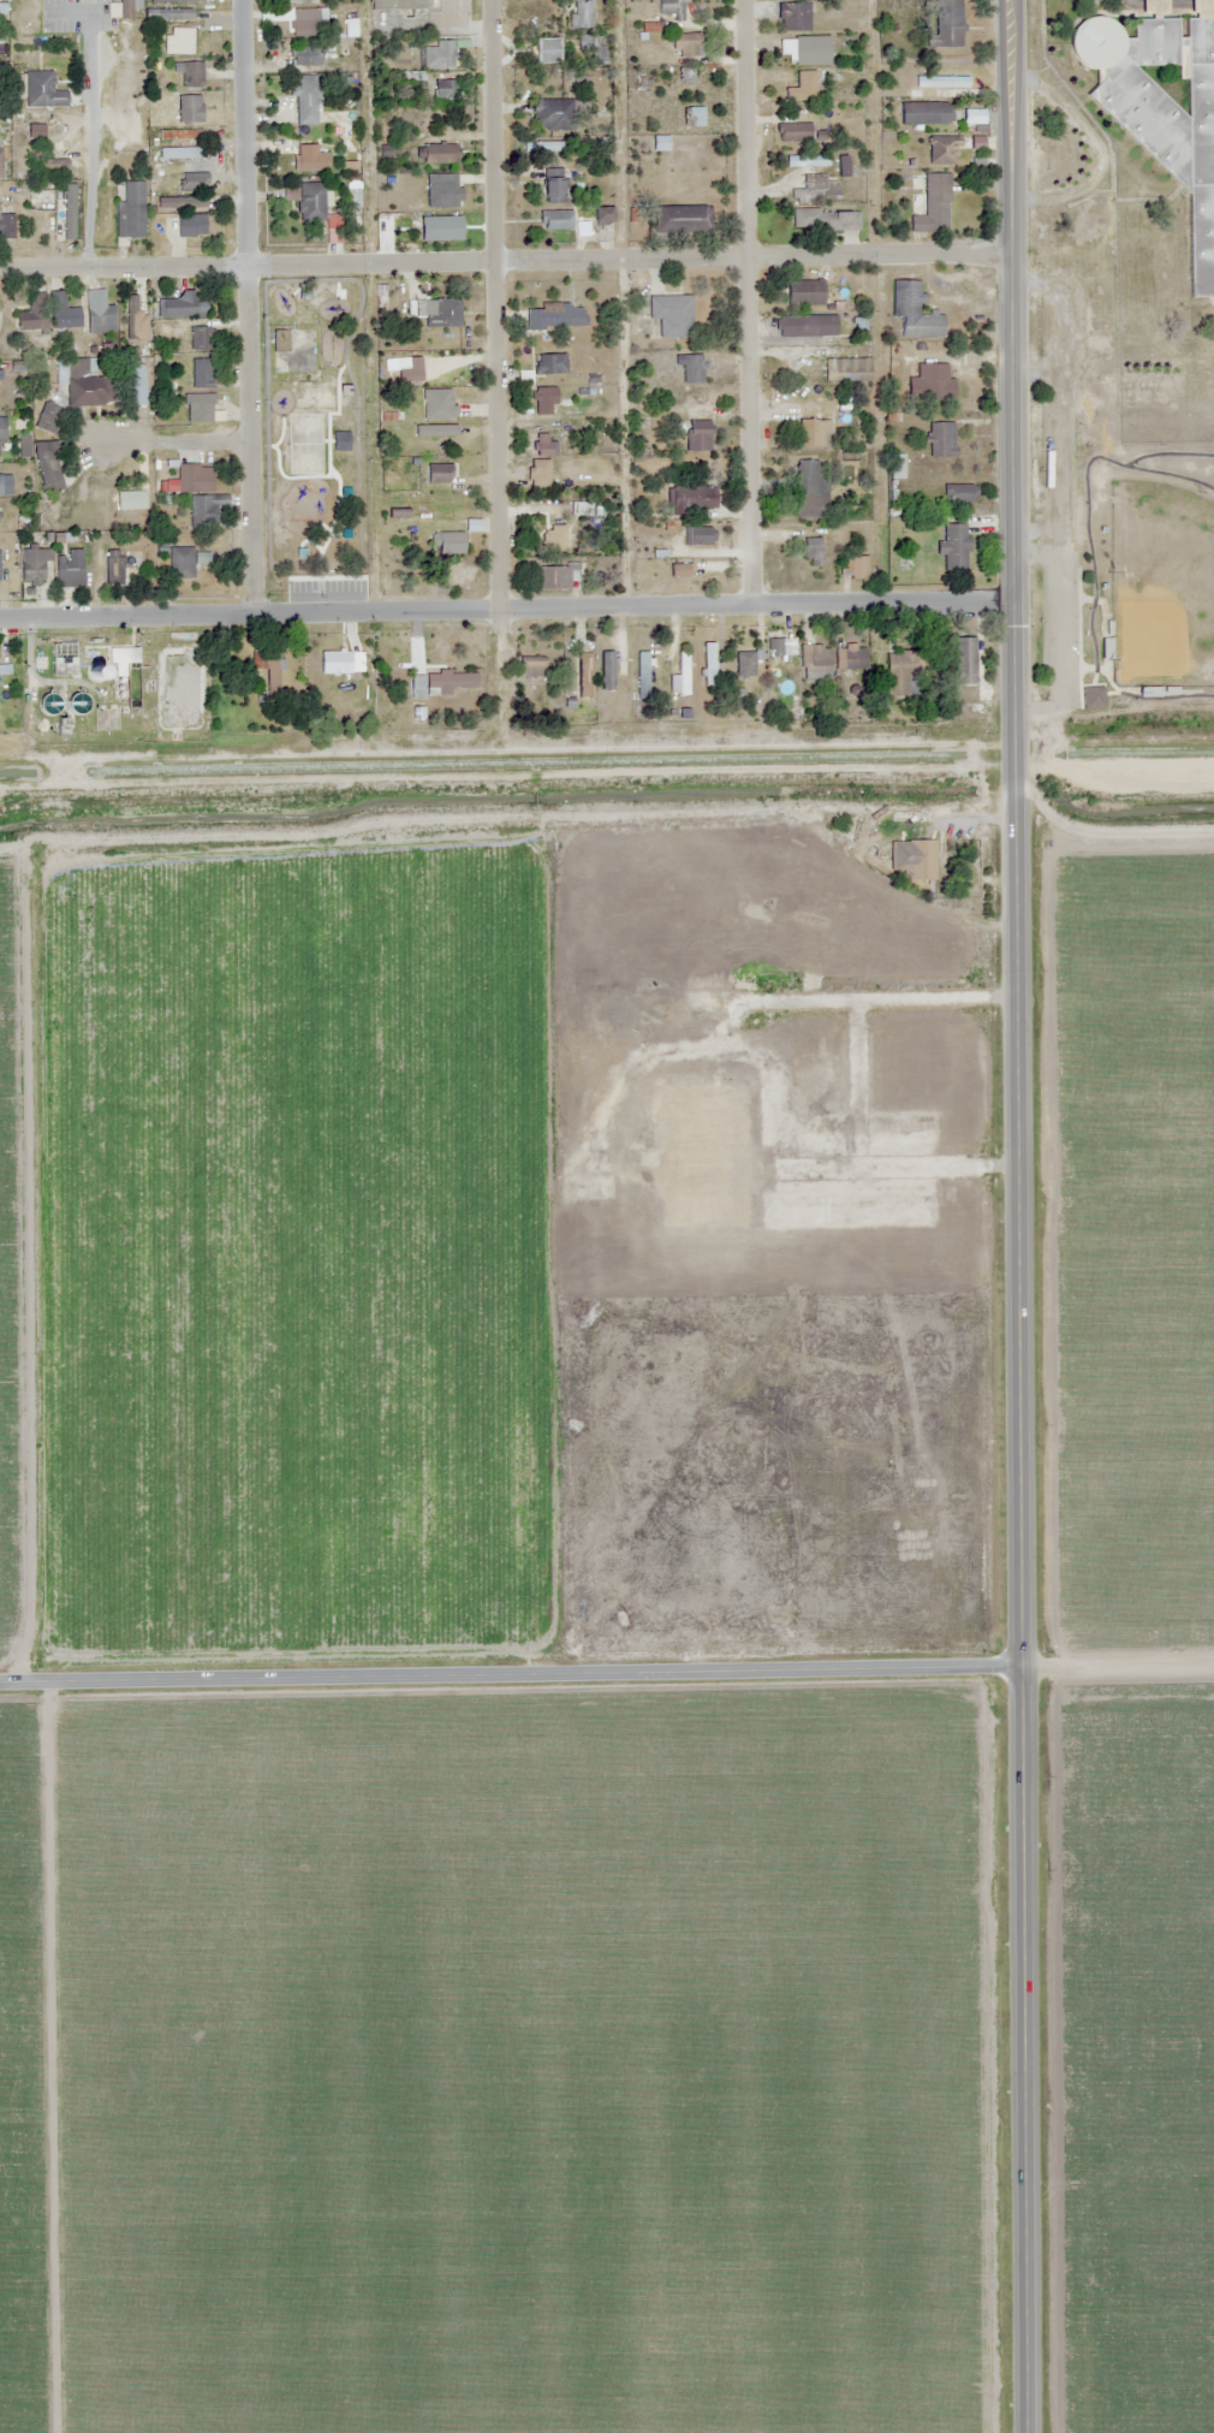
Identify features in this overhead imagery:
building: (172, 0)
building: (269, 0)
building: (399, 4)
building: (670, 8)
building: (169, 12)
building: (579, 13)
building: (791, 16)
building: (294, 18)
building: (942, 23)
building: (650, 25)
building: (177, 40)
building: (684, 43)
building: (593, 48)
building: (543, 49)
building: (803, 49)
building: (305, 54)
building: (441, 54)
building: (190, 73)
building: (679, 73)
building: (442, 88)
building: (44, 90)
building: (304, 96)
building: (188, 107)
building: (1164, 107)
building: (924, 112)
building: (552, 113)
building: (694, 115)
road: (492, 130)
building: (793, 132)
building: (179, 135)
building: (659, 143)
building: (543, 146)
building: (942, 149)
building: (175, 152)
building: (387, 152)
building: (436, 153)
building: (308, 156)
building: (805, 159)
building: (1, 164)
building: (191, 182)
building: (553, 185)
building: (815, 188)
building: (441, 194)
building: (43, 200)
building: (311, 201)
building: (181, 202)
building: (932, 203)
building: (132, 210)
building: (601, 213)
building: (680, 218)
building: (802, 218)
building: (554, 219)
building: (834, 219)
building: (192, 225)
building: (6, 226)
building: (429, 230)
building: (1135, 248)
road: (505, 260)
building: (803, 291)
road: (745, 301)
building: (179, 304)
road: (244, 305)
building: (65, 311)
building: (439, 311)
building: (912, 311)
building: (34, 313)
building: (671, 314)
building: (557, 315)
building: (133, 316)
building: (1120, 316)
building: (102, 319)
building: (804, 325)
building: (202, 338)
building: (281, 340)
building: (1165, 352)
building: (549, 363)
building: (691, 368)
building: (203, 373)
road: (1011, 373)
building: (932, 381)
building: (83, 382)
building: (1207, 384)
building: (137, 385)
building: (1147, 387)
building: (436, 390)
building: (543, 399)
building: (200, 408)
building: (49, 419)
building: (811, 432)
building: (2, 434)
building: (697, 435)
park: (315, 437)
building: (940, 439)
road: (172, 441)
building: (543, 449)
building: (895, 465)
building: (49, 467)
road: (495, 467)
building: (439, 470)
building: (196, 477)
building: (1, 485)
building: (809, 489)
building: (956, 493)
building: (690, 498)
building: (132, 504)
building: (206, 509)
building: (551, 529)
building: (698, 535)
building: (448, 542)
building: (953, 546)
building: (811, 551)
building: (204, 558)
building: (183, 563)
building: (36, 565)
building: (857, 566)
building: (71, 569)
building: (118, 569)
building: (450, 574)
building: (555, 576)
park: (1145, 577)
park: (1160, 583)
road: (755, 603)
railway: (67, 611)
road: (248, 612)
building: (774, 646)
building: (125, 654)
building: (814, 657)
building: (853, 658)
building: (962, 659)
building: (337, 661)
building: (707, 664)
building: (743, 664)
building: (530, 665)
building: (605, 670)
building: (900, 670)
building: (269, 671)
building: (643, 671)
building: (679, 675)
building: (569, 676)
building: (448, 681)
building: (1090, 696)
building: (53, 702)
building: (911, 859)
road: (1026, 1590)
road: (607, 1678)

